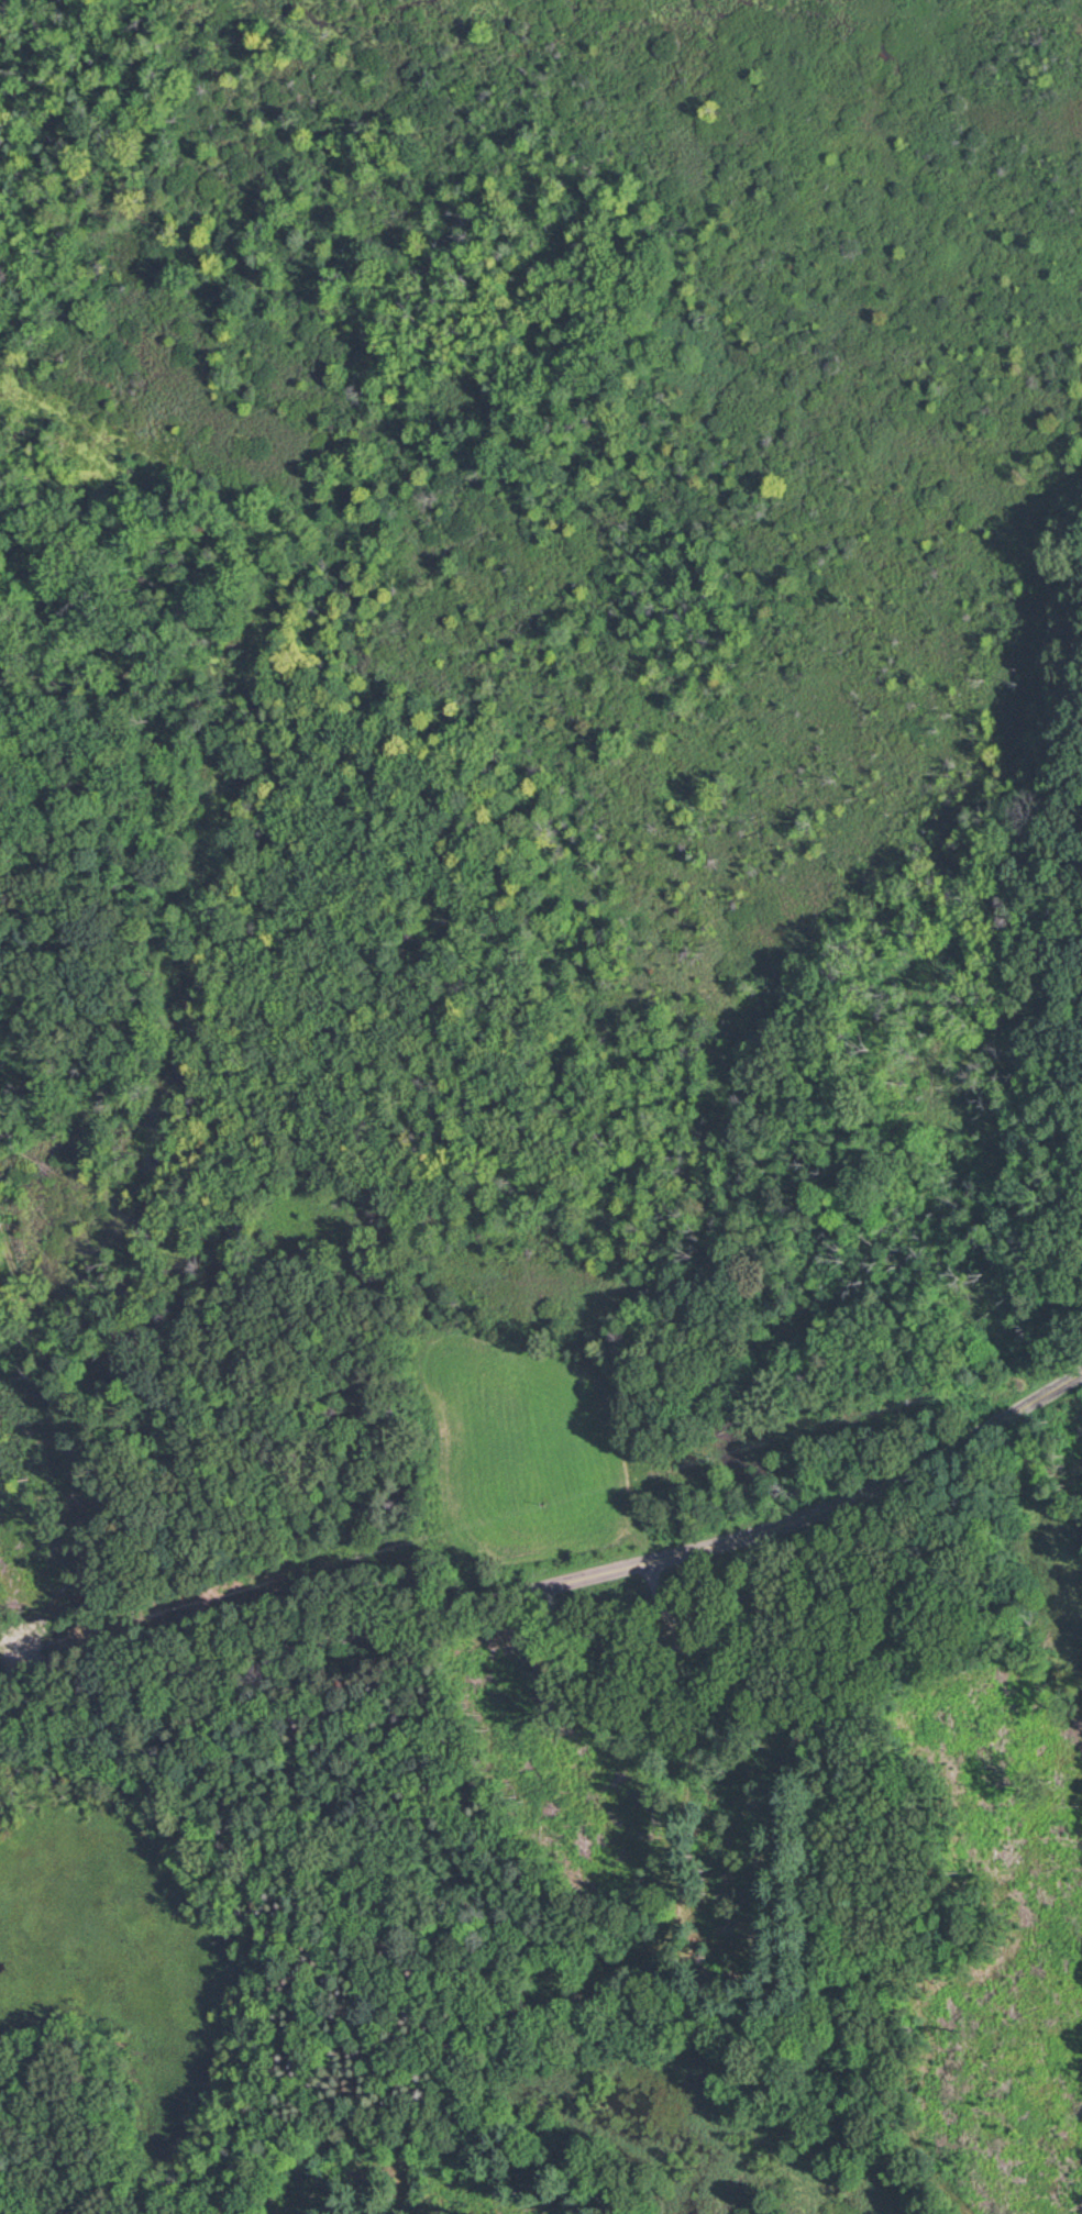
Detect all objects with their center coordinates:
road: (111, 1451)
road: (555, 1591)

